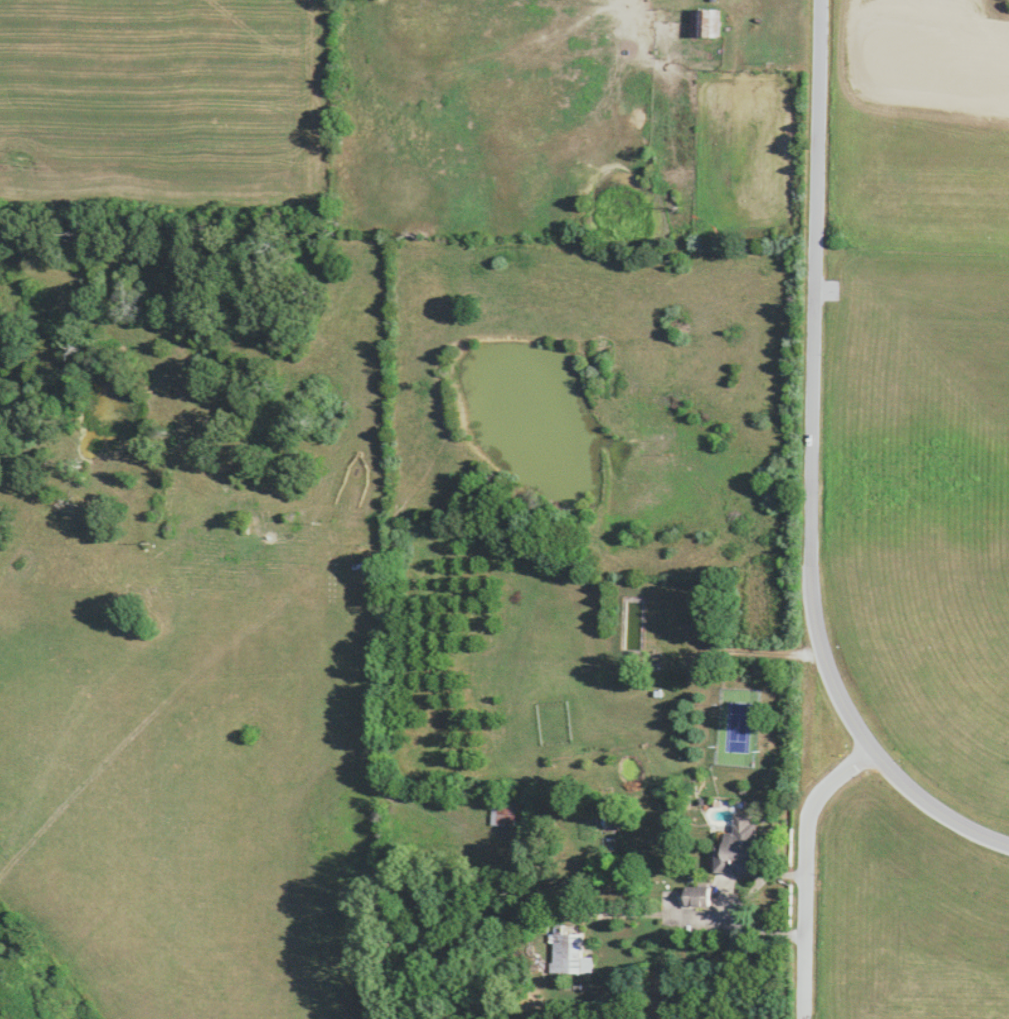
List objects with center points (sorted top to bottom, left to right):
road: (821, 280)
road: (871, 731)
building: (500, 812)
road: (815, 825)
building: (742, 846)
building: (700, 895)
building: (570, 952)

